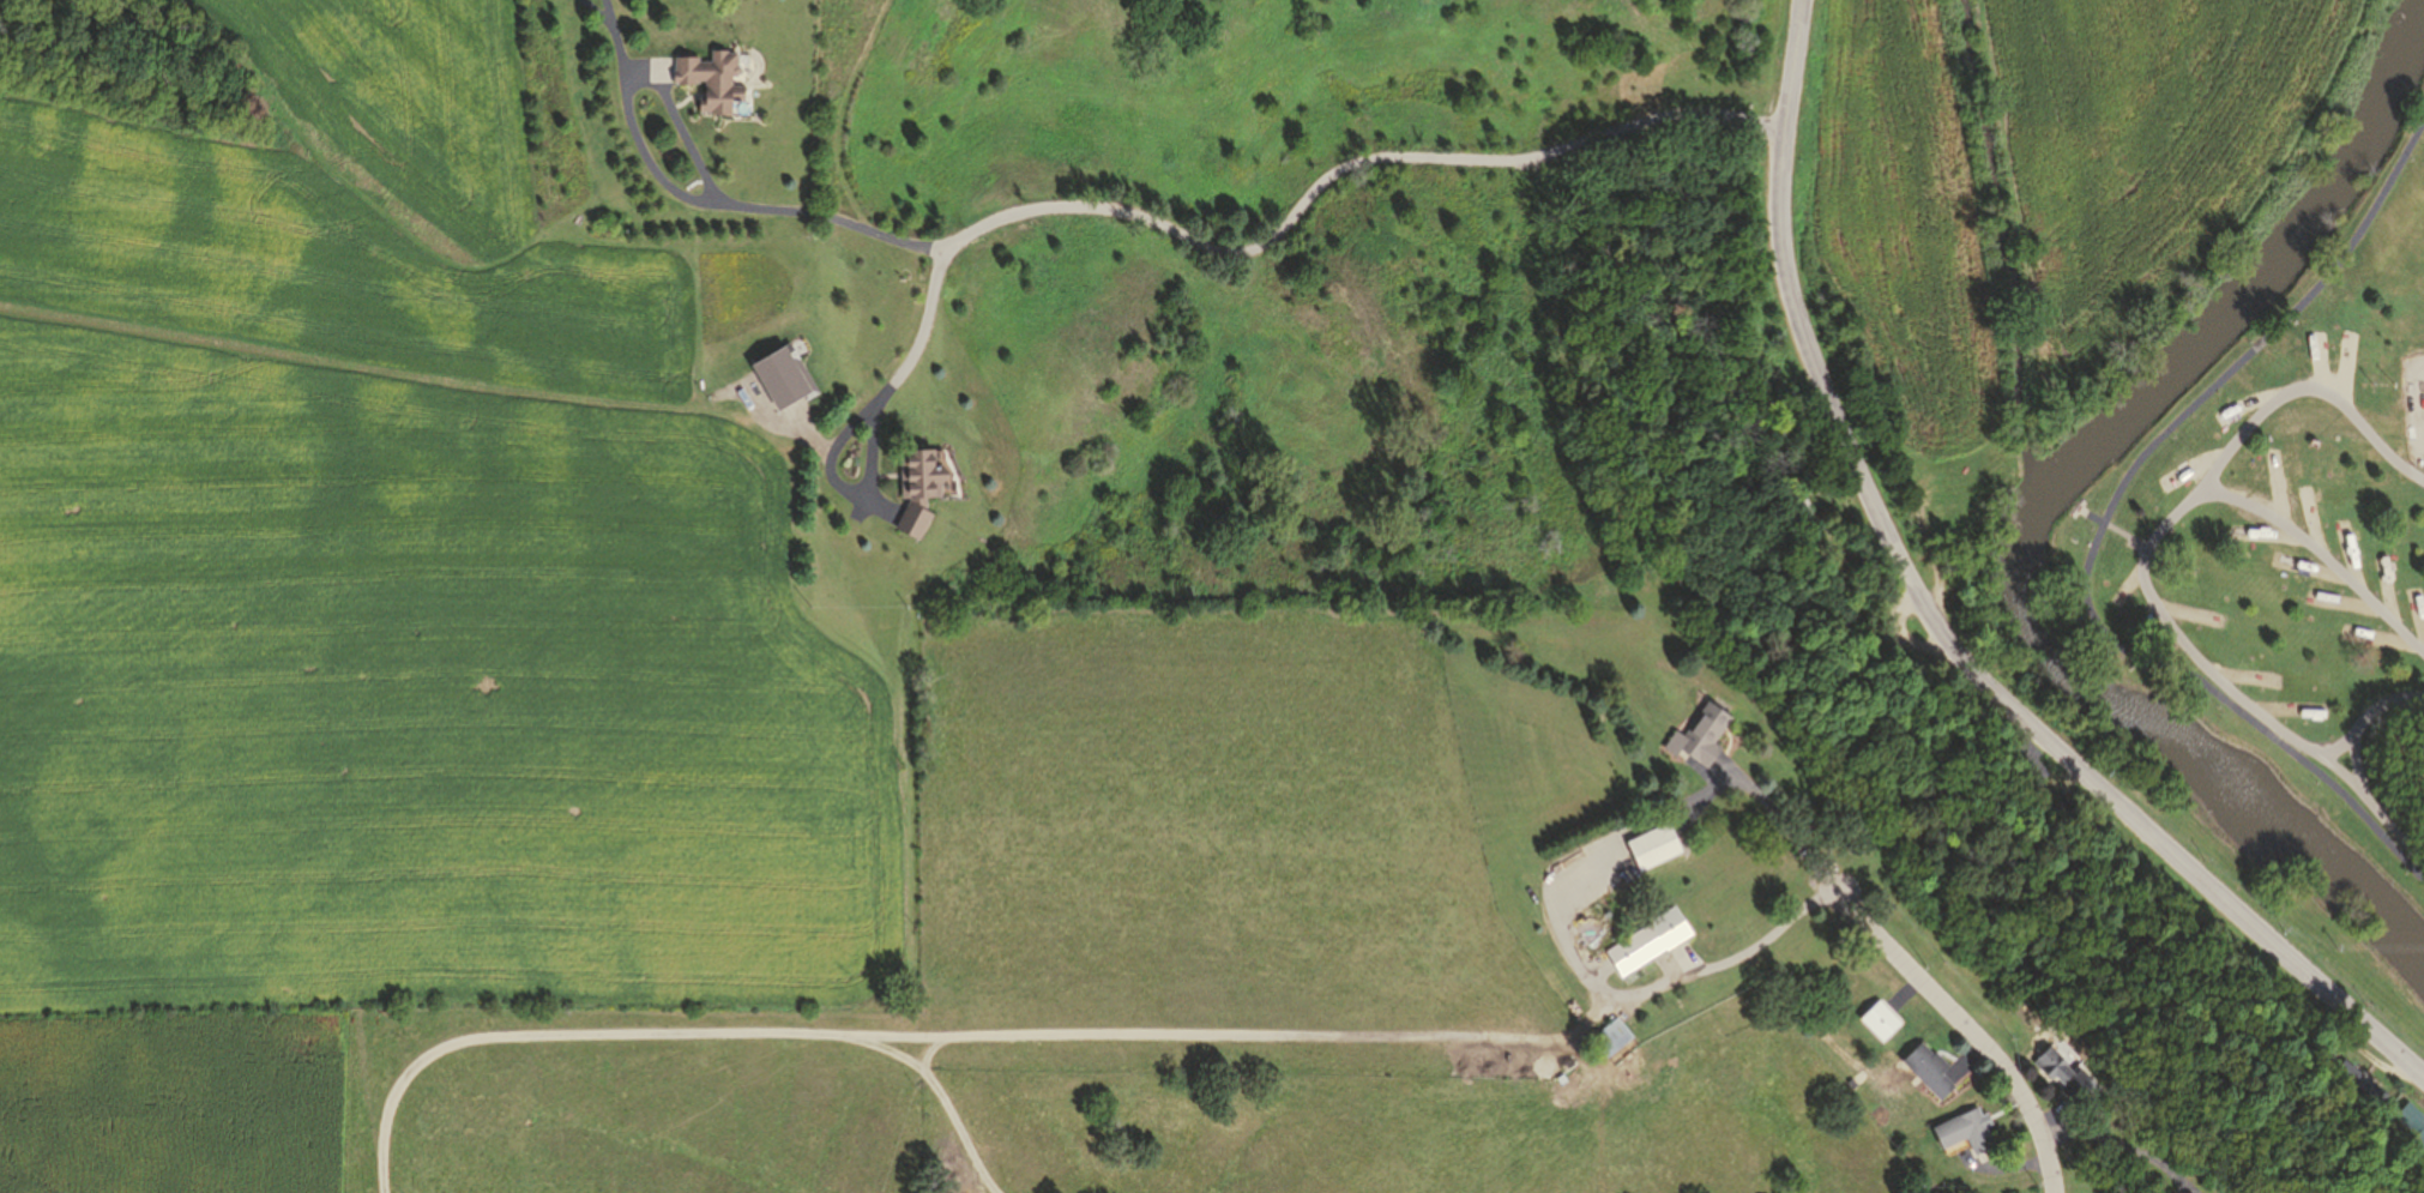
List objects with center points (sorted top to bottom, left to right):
road: (609, 11)
building: (708, 79)
park: (2422, 85)
road: (680, 125)
road: (649, 158)
road: (1295, 206)
road: (1598, 245)
road: (928, 297)
road: (1809, 348)
road: (2317, 357)
road: (2347, 363)
road: (2253, 397)
road: (2362, 420)
road: (839, 438)
road: (870, 450)
road: (2195, 466)
road: (2277, 484)
building: (916, 494)
river: (2039, 505)
road: (2313, 516)
park: (1946, 518)
park: (2289, 519)
road: (2103, 522)
road: (2111, 524)
building: (1815, 528)
road: (2267, 531)
road: (2171, 546)
road: (1926, 547)
road: (2321, 550)
road: (2350, 550)
road: (2310, 564)
road: (2143, 573)
road: (2131, 578)
building: (1851, 582)
road: (2387, 585)
road: (2345, 598)
road: (2188, 609)
road: (2420, 610)
road: (2153, 616)
road: (2382, 634)
road: (1907, 640)
road: (2249, 675)
road: (2292, 706)
road: (2411, 709)
road: (2365, 711)
building: (1699, 736)
building: (2027, 757)
road: (2371, 763)
road: (2339, 767)
building: (2058, 790)
road: (2388, 790)
road: (2374, 800)
road: (1779, 826)
road: (2413, 826)
building: (1648, 850)
road: (2195, 868)
building: (1642, 945)
road: (1573, 965)
building: (1876, 1024)
road: (1964, 1029)
road: (951, 1040)
building: (1608, 1042)
building: (1925, 1072)
building: (2362, 1080)
building: (2061, 1084)
building: (2413, 1120)
building: (1961, 1133)
road: (2115, 1147)
road: (1998, 1170)
road: (2179, 1189)

